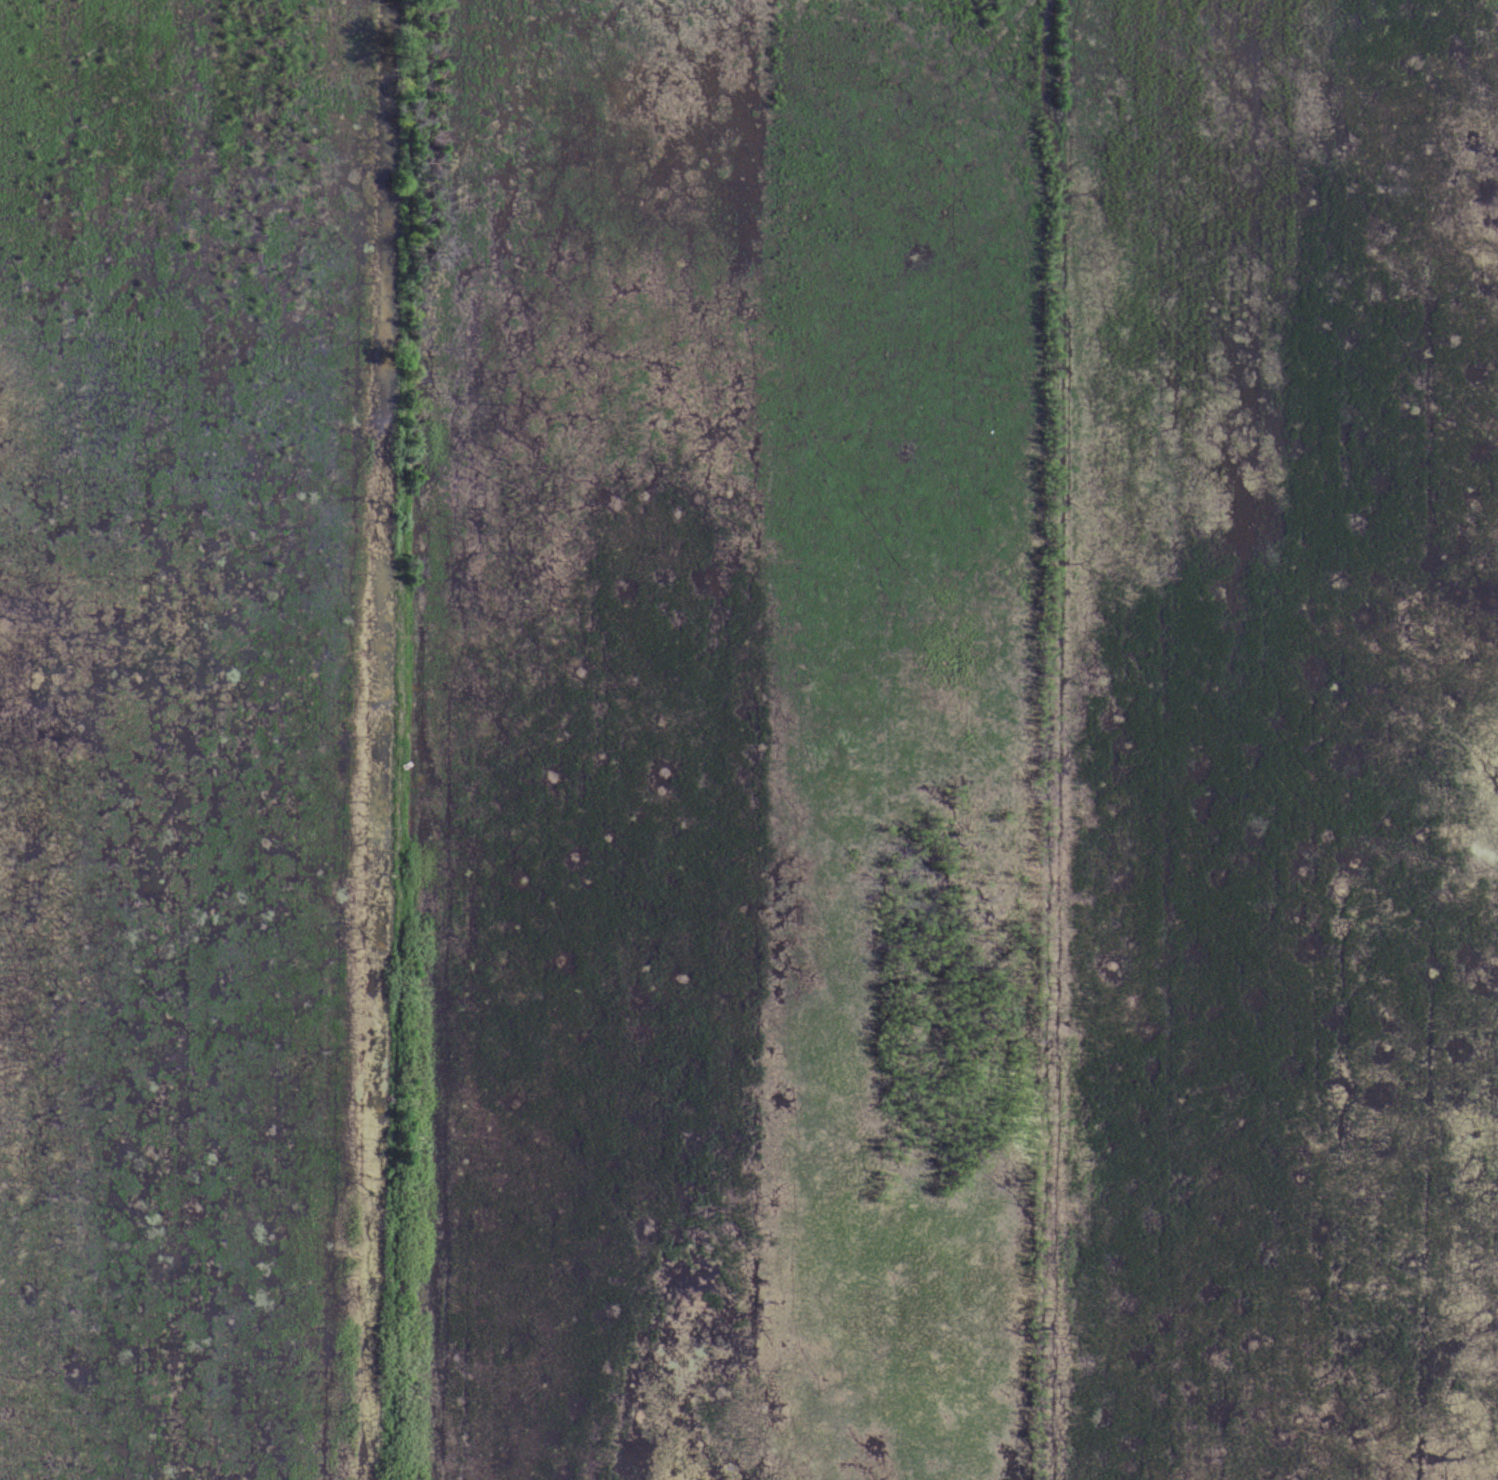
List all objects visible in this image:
crop: (749, 740)

